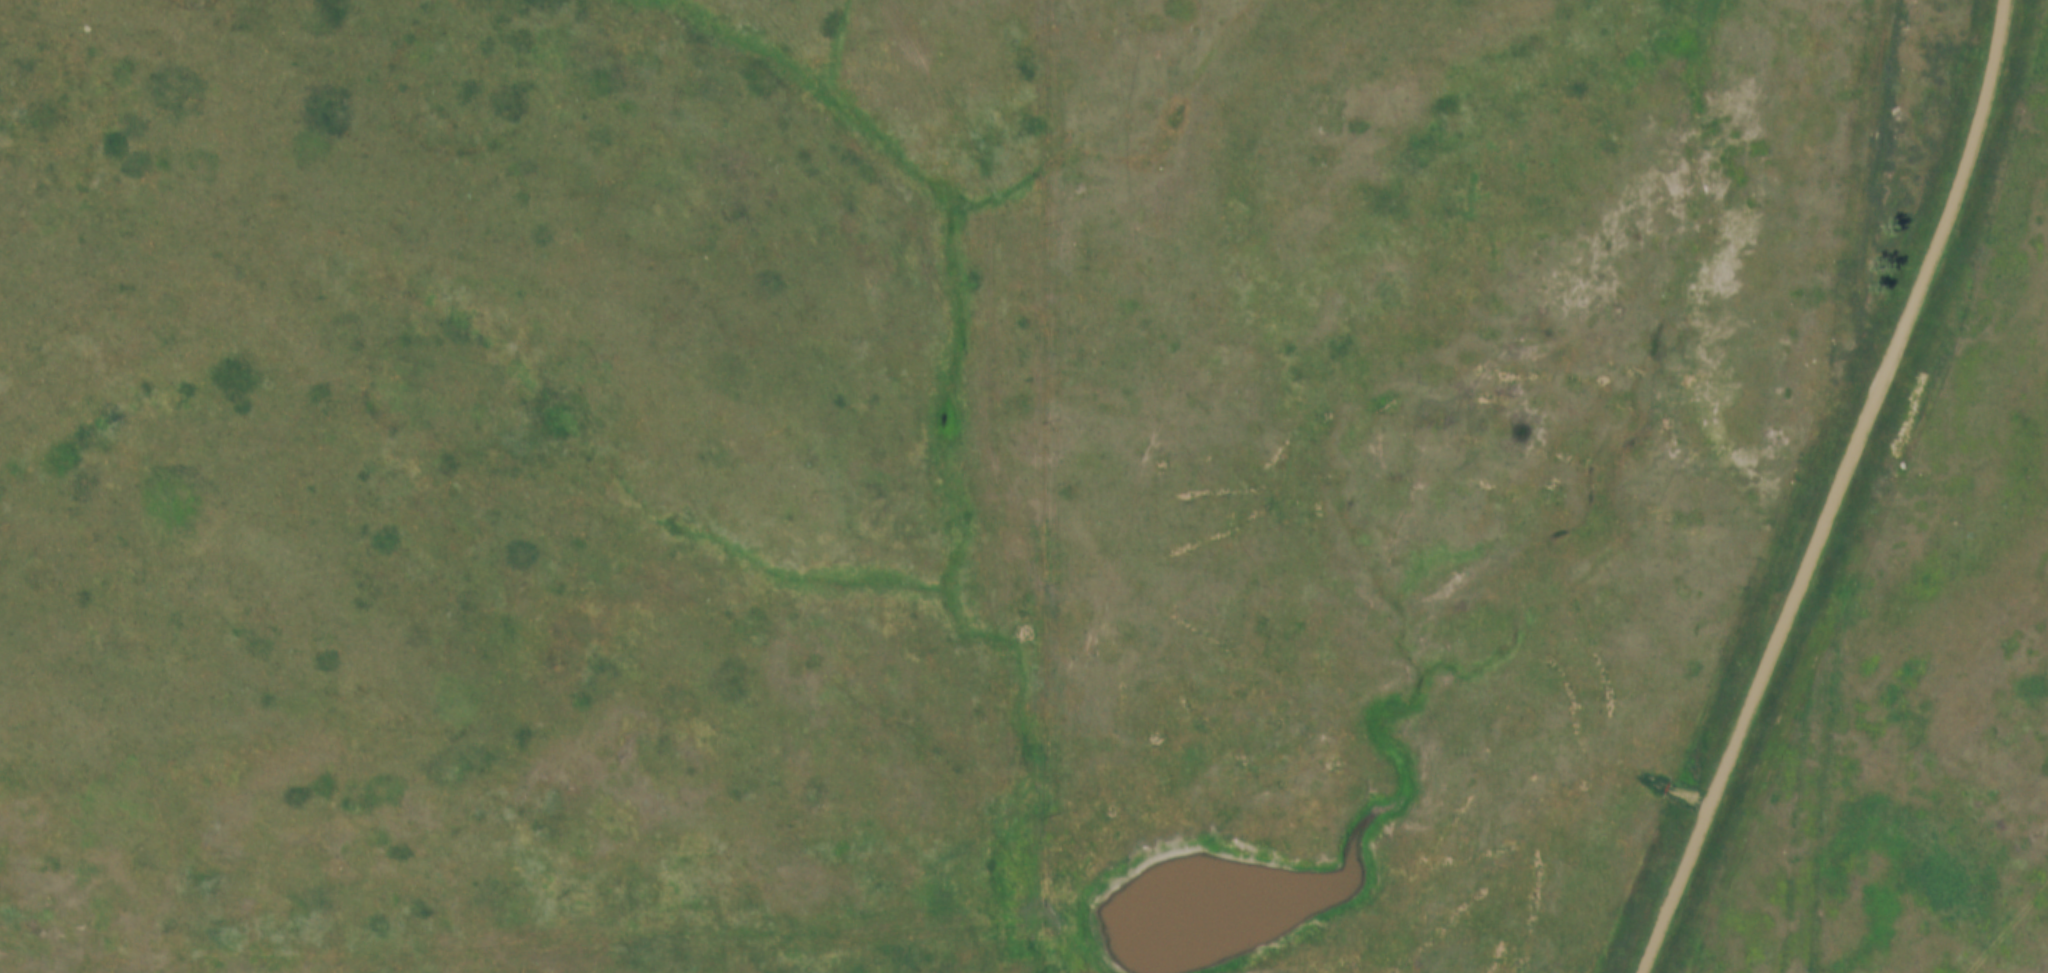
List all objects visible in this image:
road: (1838, 490)

